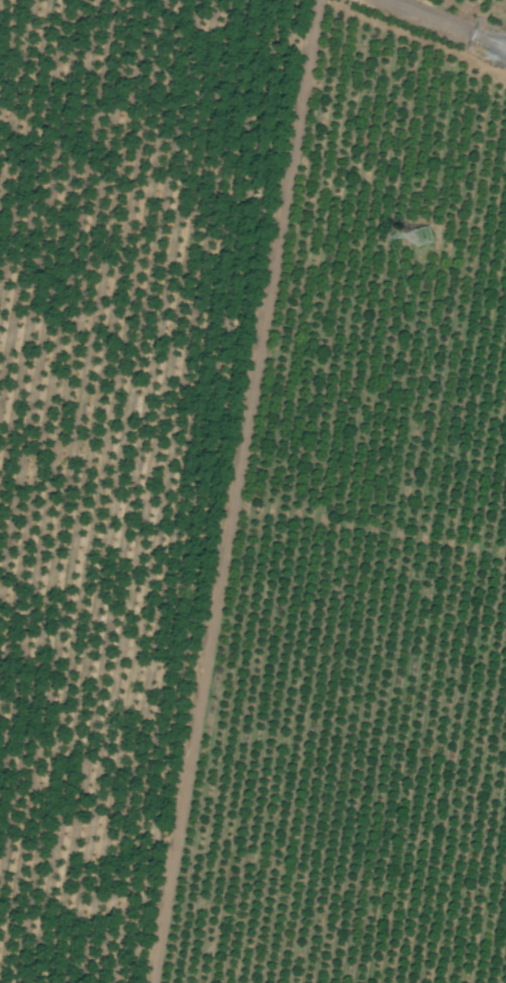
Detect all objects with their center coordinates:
road: (445, 24)
building: (421, 236)
power tower: (422, 236)
building: (283, 972)

